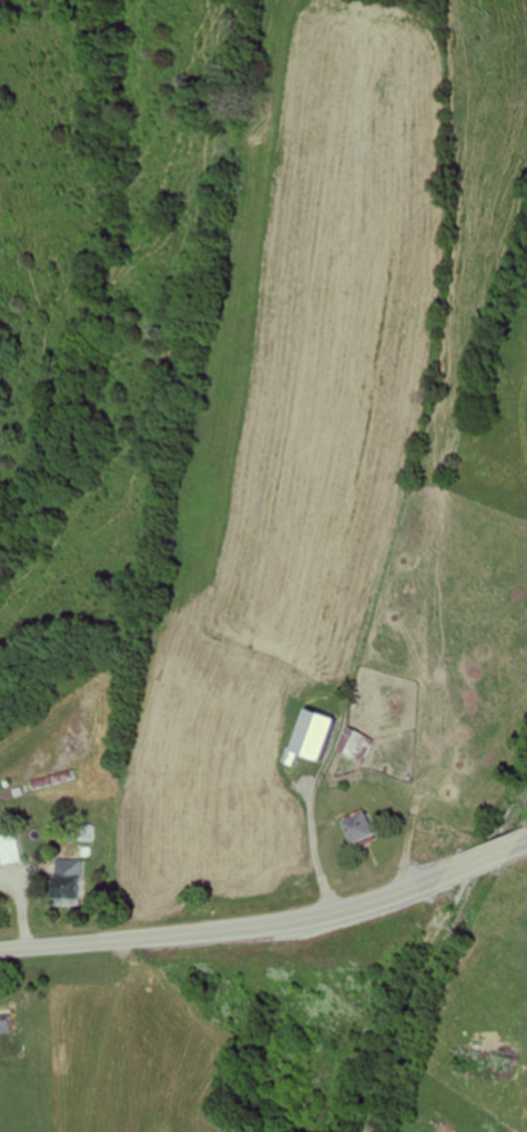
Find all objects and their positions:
building: (327, 734)
building: (362, 744)
building: (367, 828)
building: (444, 837)
road: (525, 839)
building: (12, 850)
road: (484, 855)
building: (73, 883)
road: (226, 929)
railway: (444, 964)
building: (10, 1021)

